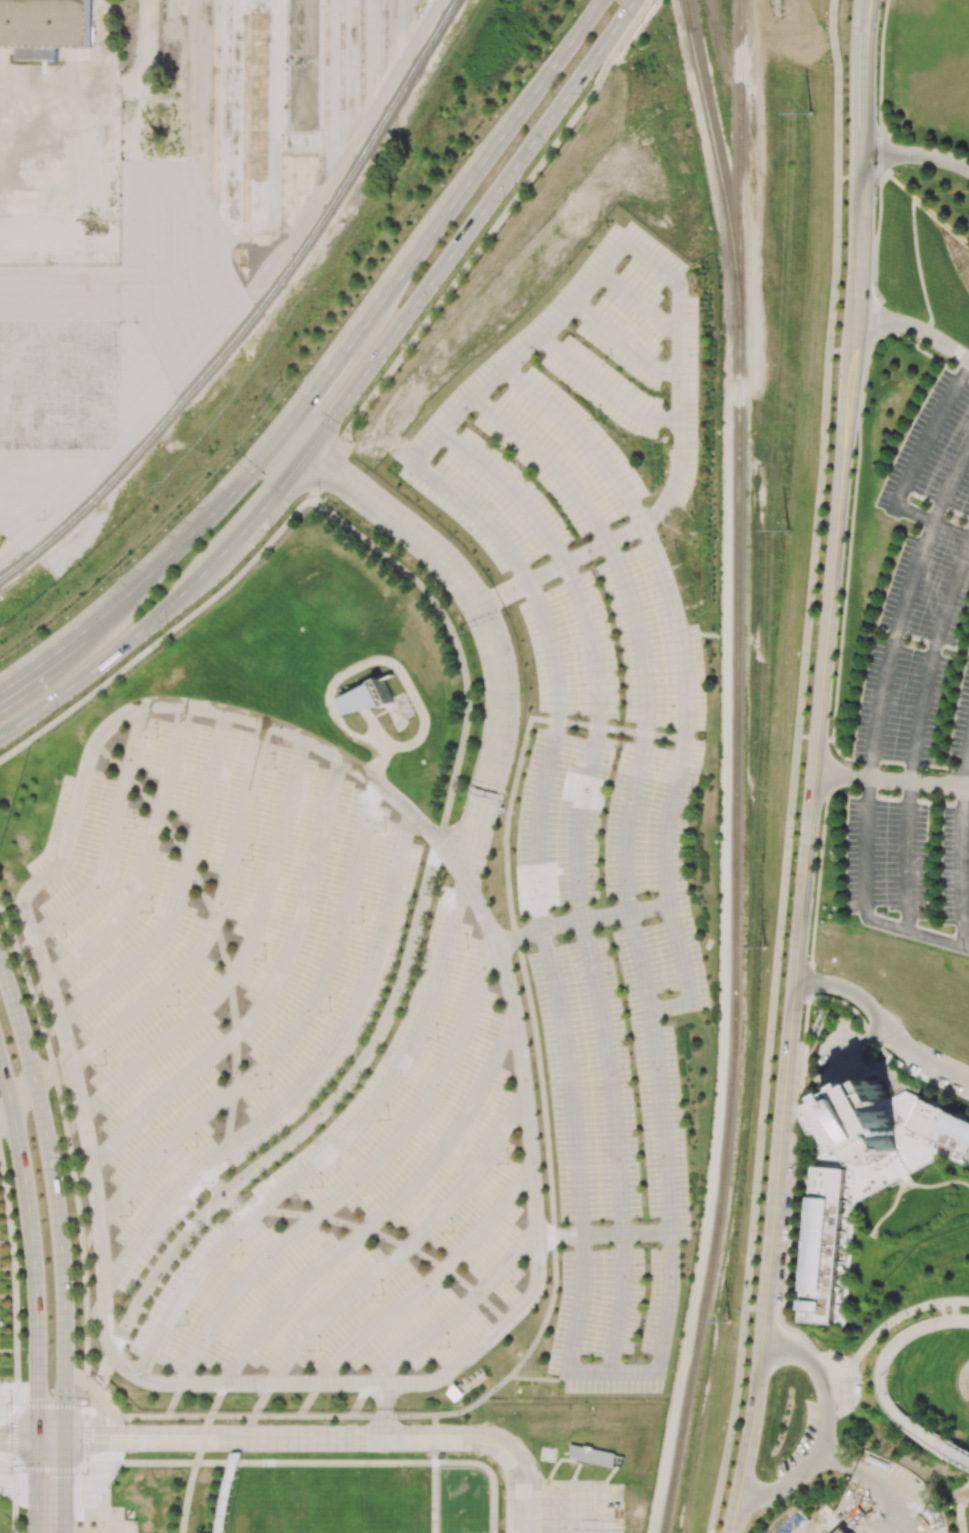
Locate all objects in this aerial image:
road: (625, 15)
railway: (685, 15)
road: (866, 17)
building: (45, 23)
road: (635, 30)
building: (35, 53)
road: (862, 94)
power tower: (808, 112)
road: (916, 155)
railway: (717, 163)
railway: (740, 164)
road: (849, 179)
road: (438, 216)
road: (859, 237)
road: (459, 242)
road: (478, 249)
road: (637, 303)
railway: (256, 311)
road: (677, 314)
road: (916, 329)
road: (623, 344)
road: (841, 352)
road: (605, 385)
traffic signals: (299, 406)
road: (291, 445)
road: (919, 452)
road: (323, 469)
traffic signals: (333, 475)
parking lot: (585, 482)
traffic signals: (278, 491)
power tower: (786, 532)
road: (180, 537)
road: (164, 607)
road: (485, 624)
road: (636, 626)
road: (164, 638)
road: (456, 644)
road: (594, 648)
road: (37, 657)
road: (680, 658)
road: (390, 662)
road: (553, 671)
building: (368, 698)
parking lot: (918, 698)
road: (875, 725)
road: (374, 728)
road: (917, 733)
road: (807, 737)
road: (523, 745)
road: (795, 767)
road: (891, 781)
road: (808, 834)
road: (111, 837)
road: (961, 854)
road: (146, 859)
road: (181, 889)
road: (604, 917)
road: (214, 920)
road: (217, 928)
railway: (735, 933)
road: (518, 936)
power tower: (767, 947)
road: (242, 955)
road: (269, 992)
road: (669, 1008)
road: (882, 1025)
road: (289, 1032)
parking lot: (612, 1037)
road: (373, 1045)
parking lot: (280, 1061)
road: (657, 1071)
road: (37, 1077)
road: (307, 1079)
road: (570, 1081)
road: (541, 1086)
road: (6, 1115)
building: (863, 1123)
building: (940, 1130)
building: (908, 1144)
road: (615, 1146)
road: (797, 1146)
road: (333, 1148)
road: (361, 1177)
road: (54, 1197)
road: (382, 1214)
road: (358, 1226)
road: (602, 1235)
road: (32, 1246)
building: (827, 1247)
road: (403, 1249)
road: (12, 1276)
road: (428, 1281)
road: (144, 1292)
road: (763, 1309)
road: (459, 1311)
road: (942, 1311)
road: (955, 1311)
road: (547, 1313)
road: (891, 1320)
road: (955, 1321)
power tower: (728, 1322)
road: (575, 1324)
road: (664, 1327)
road: (105, 1332)
road: (805, 1342)
road: (780, 1352)
road: (962, 1375)
road: (826, 1379)
road: (539, 1380)
road: (882, 1385)
road: (836, 1396)
road: (173, 1399)
road: (308, 1399)
road: (359, 1399)
traffic signals: (37, 1400)
road: (824, 1401)
road: (214, 1404)
road: (259, 1405)
road: (475, 1406)
road: (384, 1410)
road: (234, 1416)
road: (409, 1416)
road: (434, 1421)
traffic signals: (7, 1437)
road: (18, 1438)
road: (51, 1438)
traffic signals: (94, 1438)
road: (141, 1438)
road: (202, 1438)
road: (339, 1438)
road: (435, 1438)
road: (242, 1439)
road: (748, 1442)
parking lot: (804, 1446)
road: (503, 1447)
road: (959, 1454)
building: (593, 1455)
road: (435, 1456)
road: (259, 1462)
road: (838, 1462)
road: (13, 1468)
road: (1, 1469)
road: (8, 1470)
road: (1, 1471)
road: (490, 1474)
traffic signals: (65, 1477)
road: (36, 1485)
road: (64, 1485)
road: (785, 1486)
road: (188, 1491)
building: (227, 1491)
road: (225, 1492)
road: (435, 1497)
road: (12, 1501)
road: (877, 1501)
road: (526, 1508)
parking lot: (563, 1509)
building: (842, 1531)

